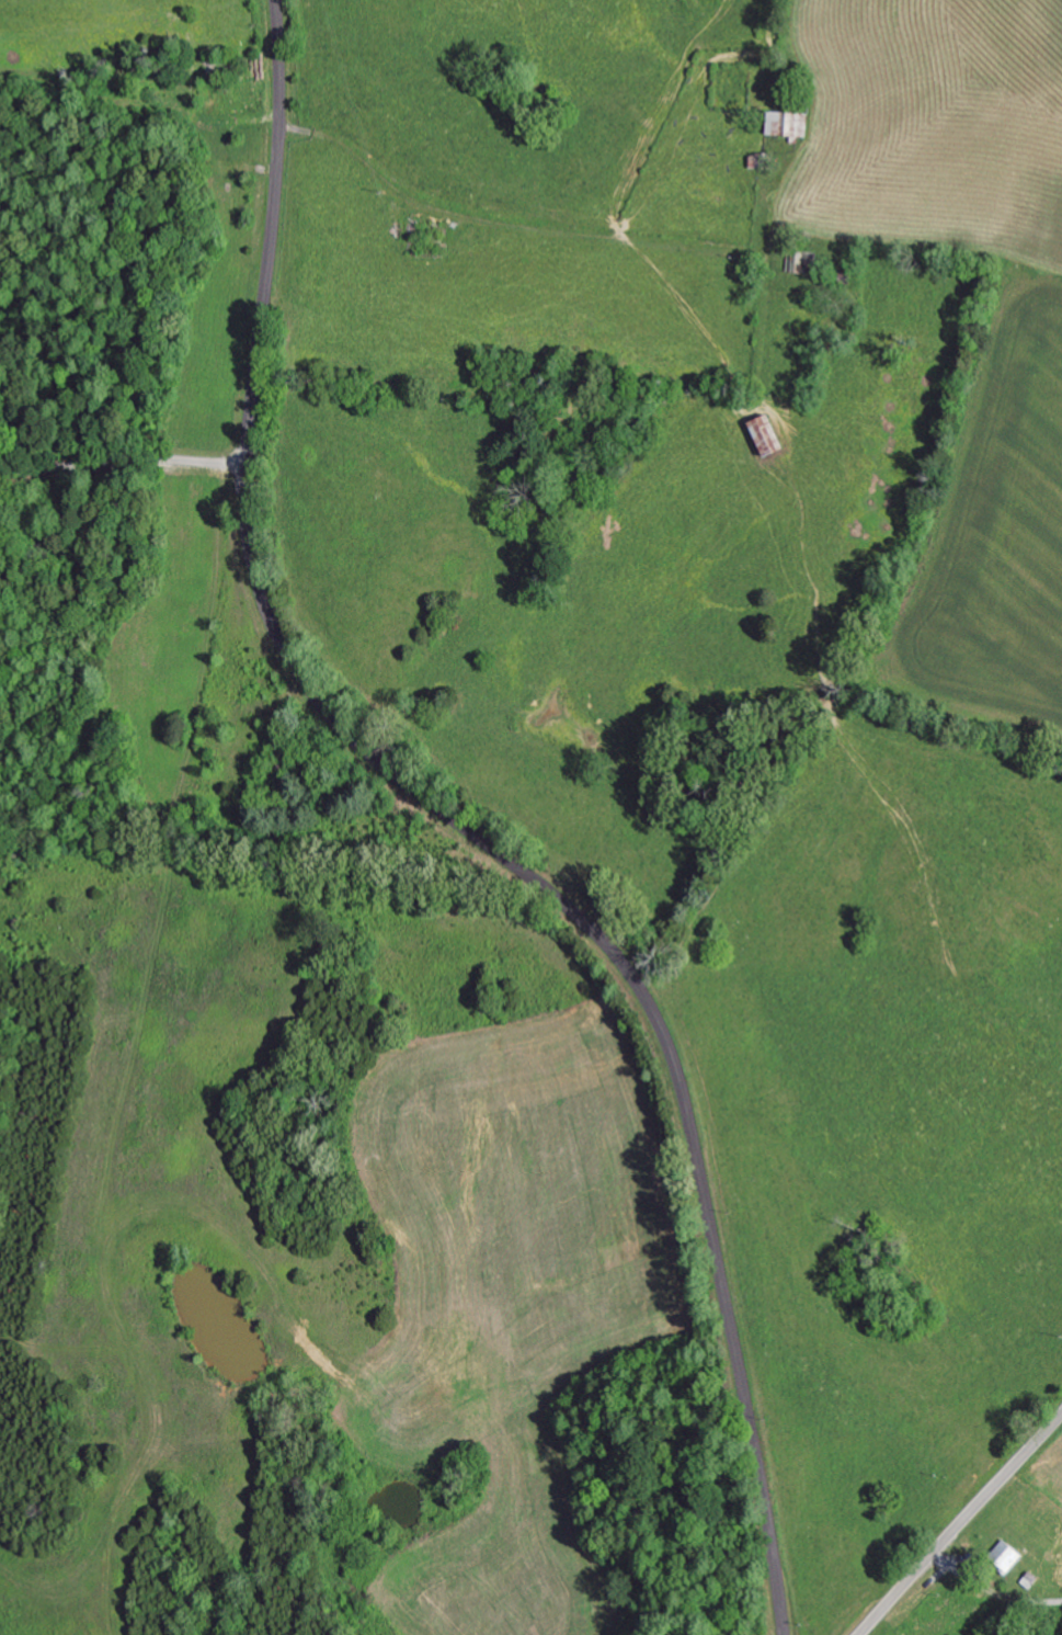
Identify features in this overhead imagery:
building: (793, 123)
road: (500, 238)
road: (123, 462)
road: (458, 827)
road: (959, 1523)
building: (1002, 1556)

